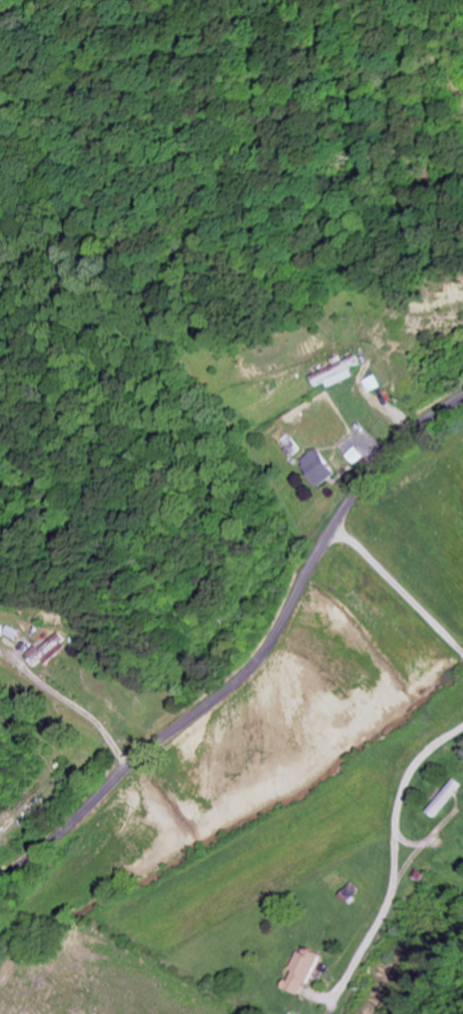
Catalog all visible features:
building: (340, 374)
building: (377, 384)
building: (293, 445)
building: (321, 467)
building: (49, 650)
road: (256, 661)
building: (443, 798)
building: (349, 893)
building: (304, 970)

